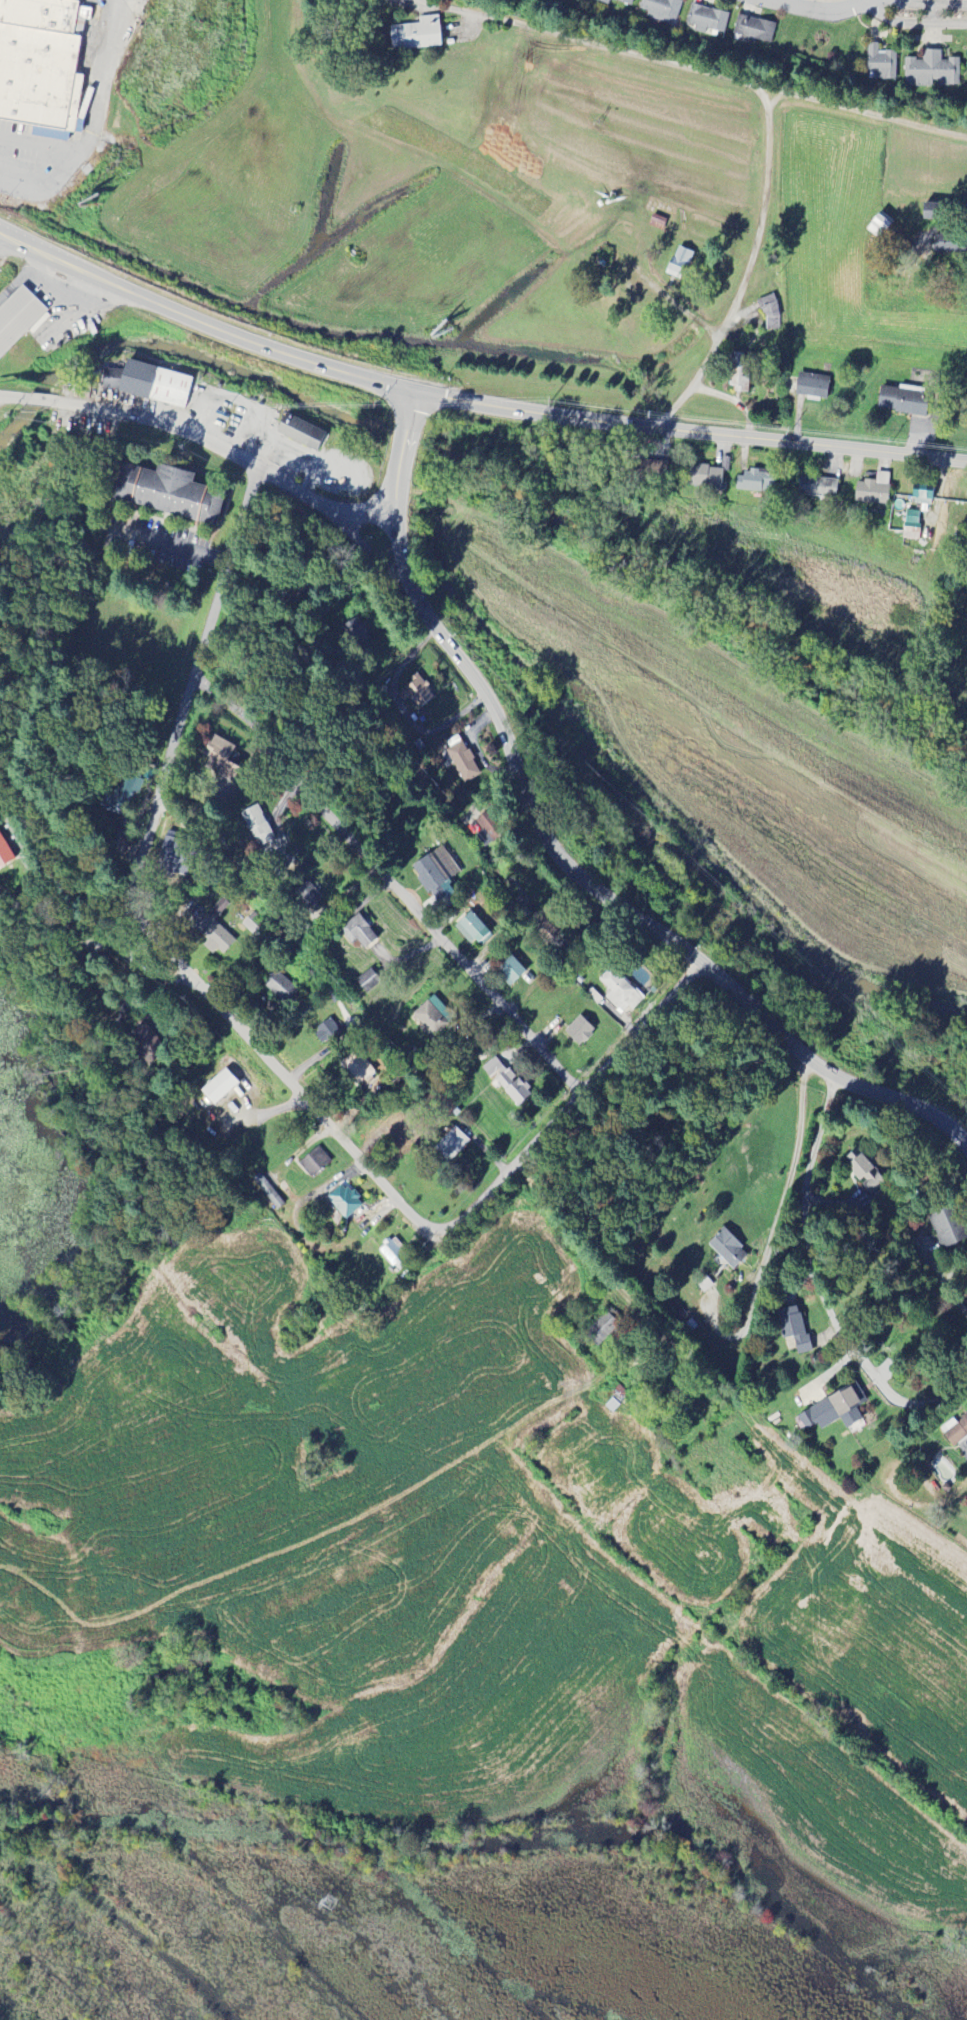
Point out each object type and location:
building: (616, 2)
road: (879, 6)
building: (661, 10)
road: (864, 11)
building: (707, 20)
building: (754, 30)
building: (416, 35)
building: (43, 59)
building: (881, 64)
building: (930, 71)
road: (715, 75)
building: (948, 245)
building: (679, 264)
road: (747, 274)
road: (22, 279)
building: (770, 314)
building: (19, 319)
building: (738, 373)
building: (149, 385)
building: (812, 387)
building: (901, 399)
road: (469, 405)
building: (300, 434)
road: (201, 445)
building: (648, 469)
building: (705, 473)
building: (879, 476)
building: (753, 480)
building: (815, 485)
building: (920, 487)
building: (869, 491)
building: (169, 495)
building: (912, 520)
building: (908, 529)
road: (172, 545)
building: (357, 634)
building: (417, 692)
building: (222, 759)
building: (463, 763)
building: (119, 795)
building: (256, 825)
building: (5, 854)
road: (559, 860)
building: (436, 874)
road: (388, 885)
building: (308, 896)
building: (253, 924)
road: (90, 926)
building: (215, 930)
building: (471, 930)
building: (358, 933)
building: (511, 971)
building: (369, 981)
building: (281, 988)
building: (620, 992)
building: (431, 1017)
building: (579, 1032)
building: (328, 1033)
road: (249, 1041)
building: (147, 1044)
building: (357, 1068)
building: (506, 1082)
building: (219, 1088)
building: (451, 1145)
building: (314, 1163)
road: (791, 1169)
building: (864, 1173)
building: (267, 1192)
road: (280, 1196)
building: (344, 1202)
building: (947, 1229)
road: (549, 1240)
building: (728, 1250)
building: (391, 1254)
road: (944, 1282)
road: (818, 1288)
building: (793, 1329)
building: (833, 1411)
building: (955, 1431)
power tower: (328, 1906)

